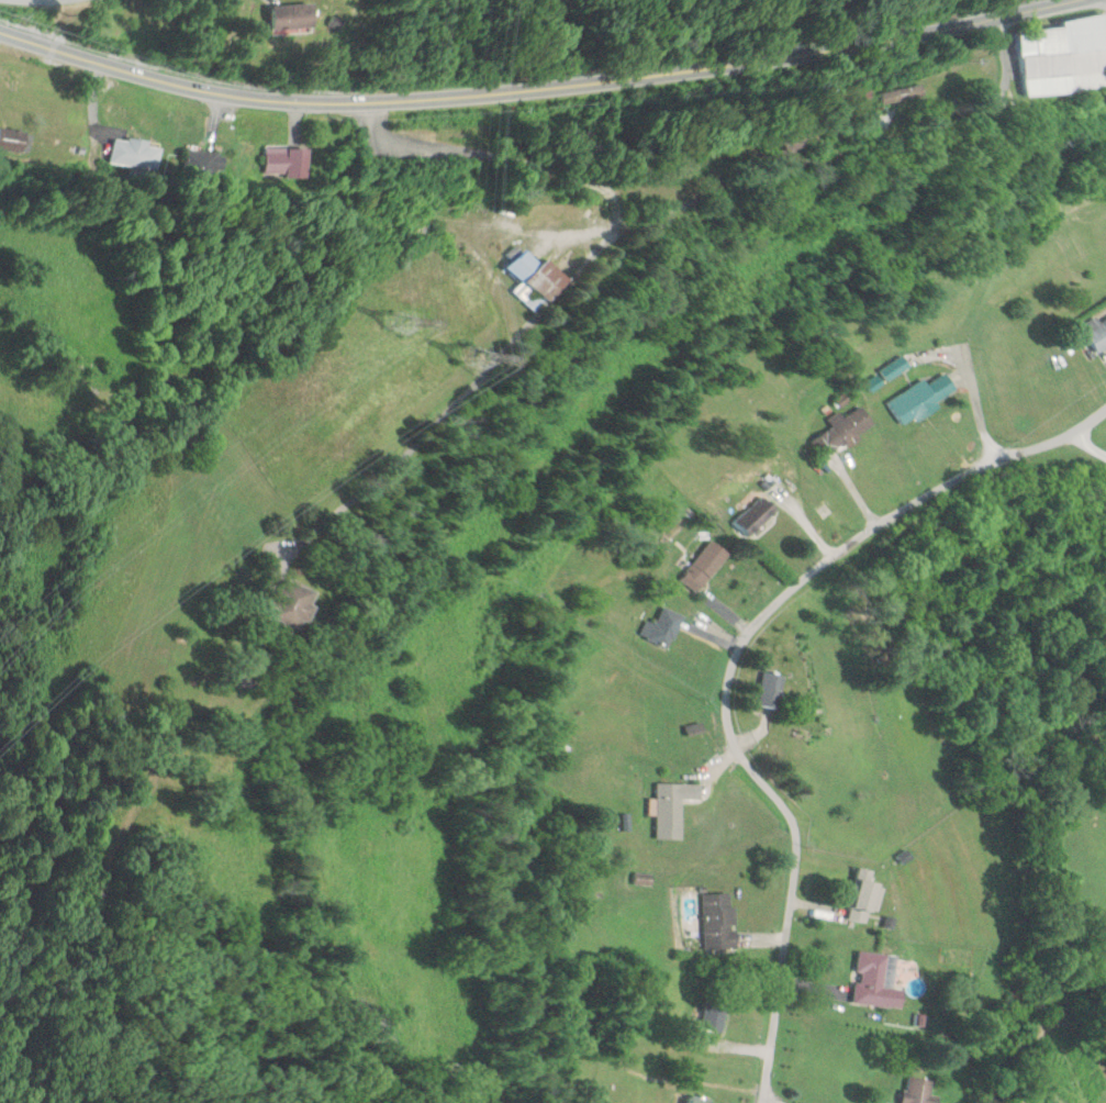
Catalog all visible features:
building: (291, 16)
building: (1069, 59)
road: (541, 89)
building: (912, 98)
building: (135, 154)
building: (301, 159)
building: (548, 276)
power tower: (416, 315)
building: (1098, 336)
power tower: (489, 356)
building: (895, 367)
building: (923, 397)
building: (842, 431)
building: (756, 514)
road: (941, 541)
building: (706, 565)
building: (298, 602)
building: (662, 626)
road: (734, 665)
building: (771, 689)
building: (673, 806)
building: (867, 892)
building: (718, 921)
building: (878, 980)
building: (715, 1010)
building: (381, 1032)
building: (918, 1091)
building: (697, 1099)

